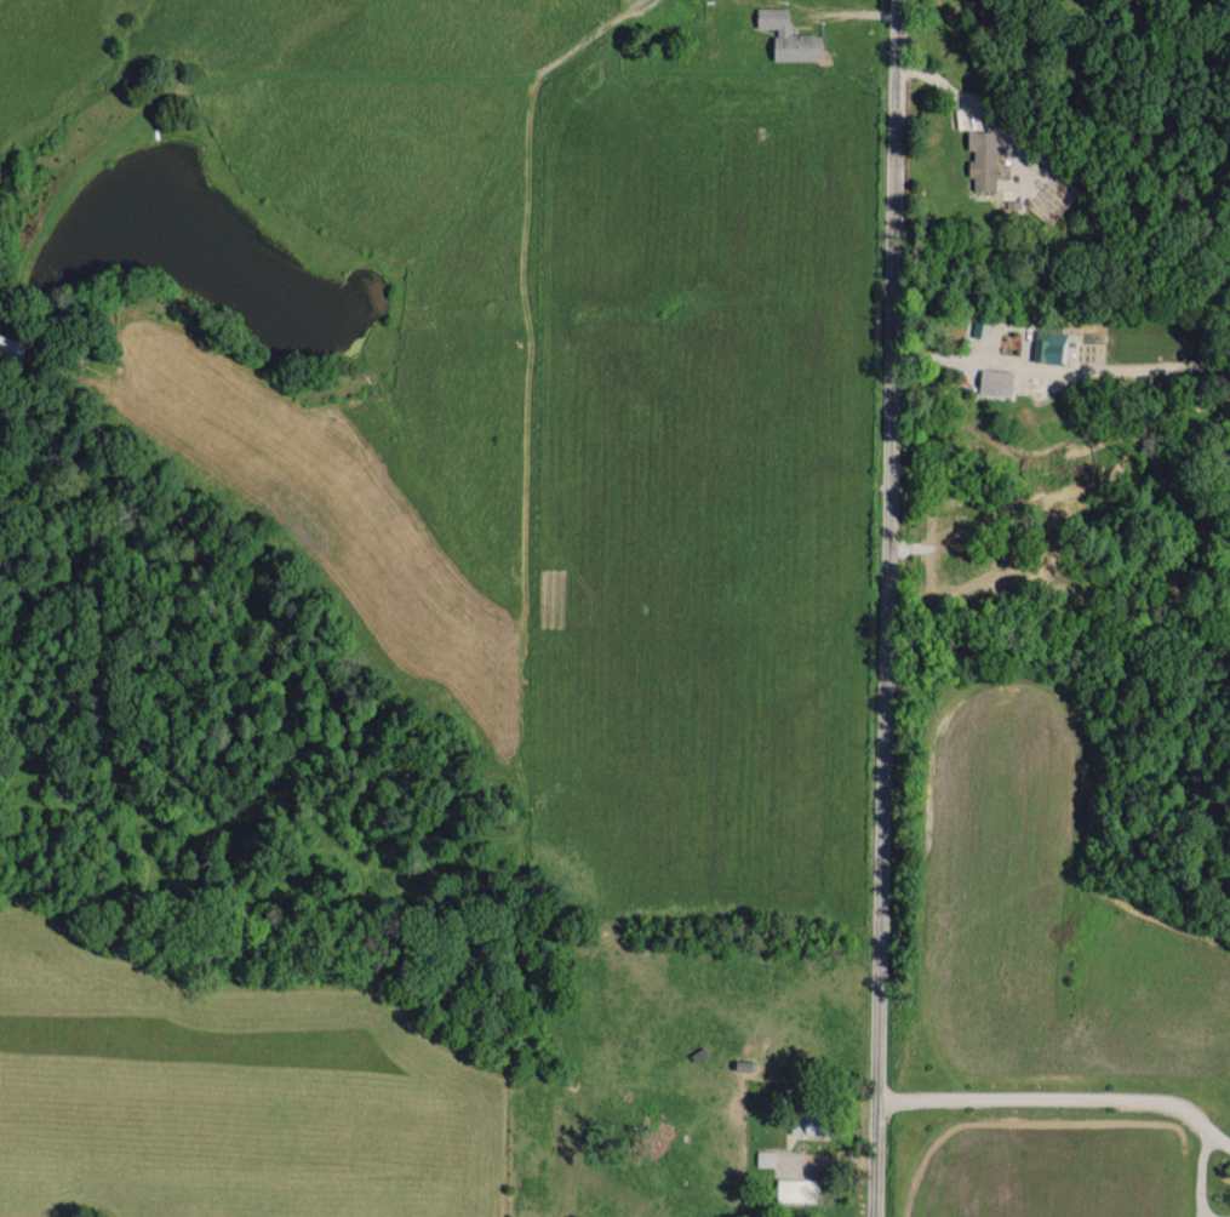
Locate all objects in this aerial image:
building: (788, 35)
building: (983, 158)
building: (1016, 198)
building: (1049, 345)
building: (995, 382)
road: (885, 608)
road: (1062, 1093)
building: (806, 1122)
building: (765, 1158)
building: (797, 1189)

